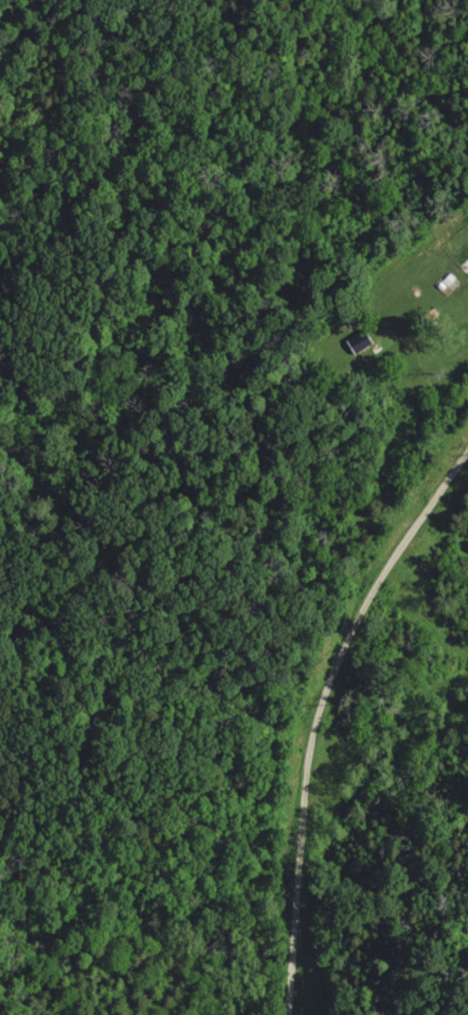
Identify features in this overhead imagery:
road: (315, 711)

